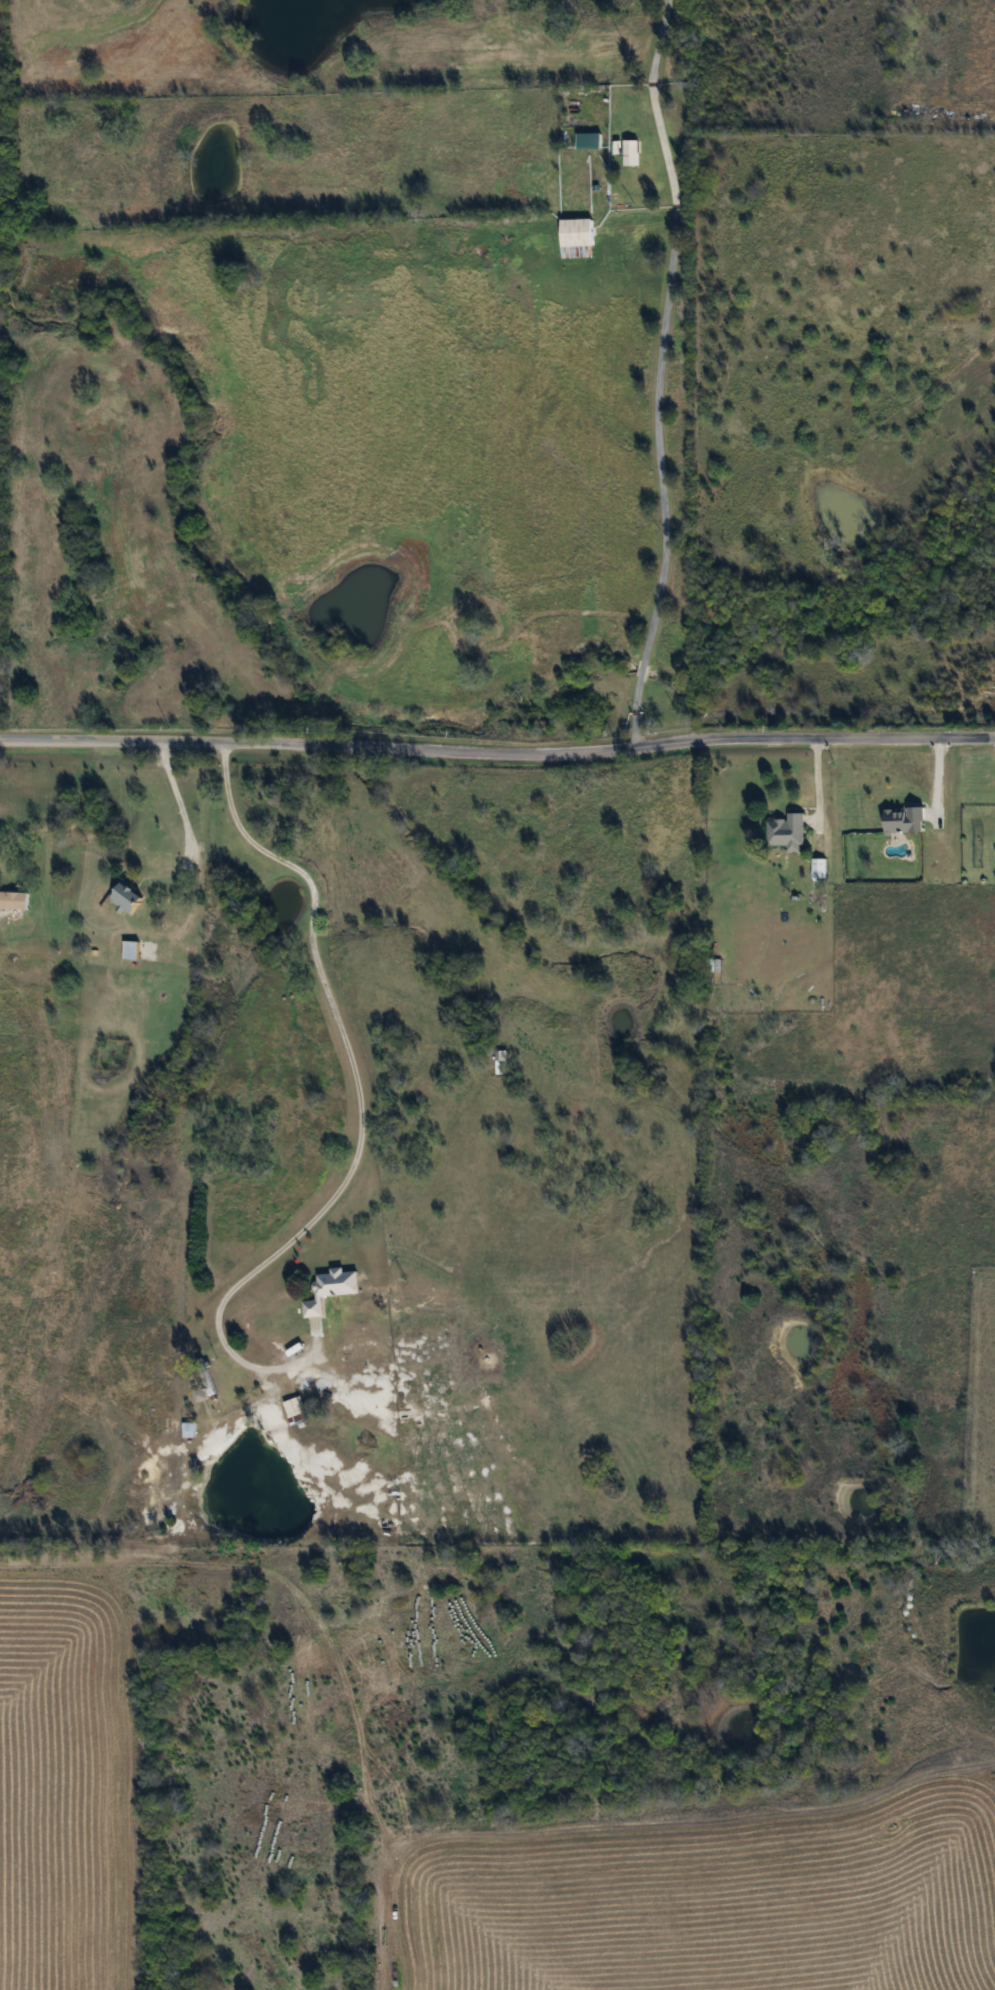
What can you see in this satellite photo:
building: (629, 154)
building: (574, 238)
road: (653, 374)
road: (497, 754)
road: (176, 803)
building: (901, 820)
building: (785, 832)
building: (817, 868)
building: (126, 897)
building: (13, 901)
building: (129, 950)
building: (501, 1058)
road: (355, 1085)
building: (330, 1290)
building: (293, 1408)

